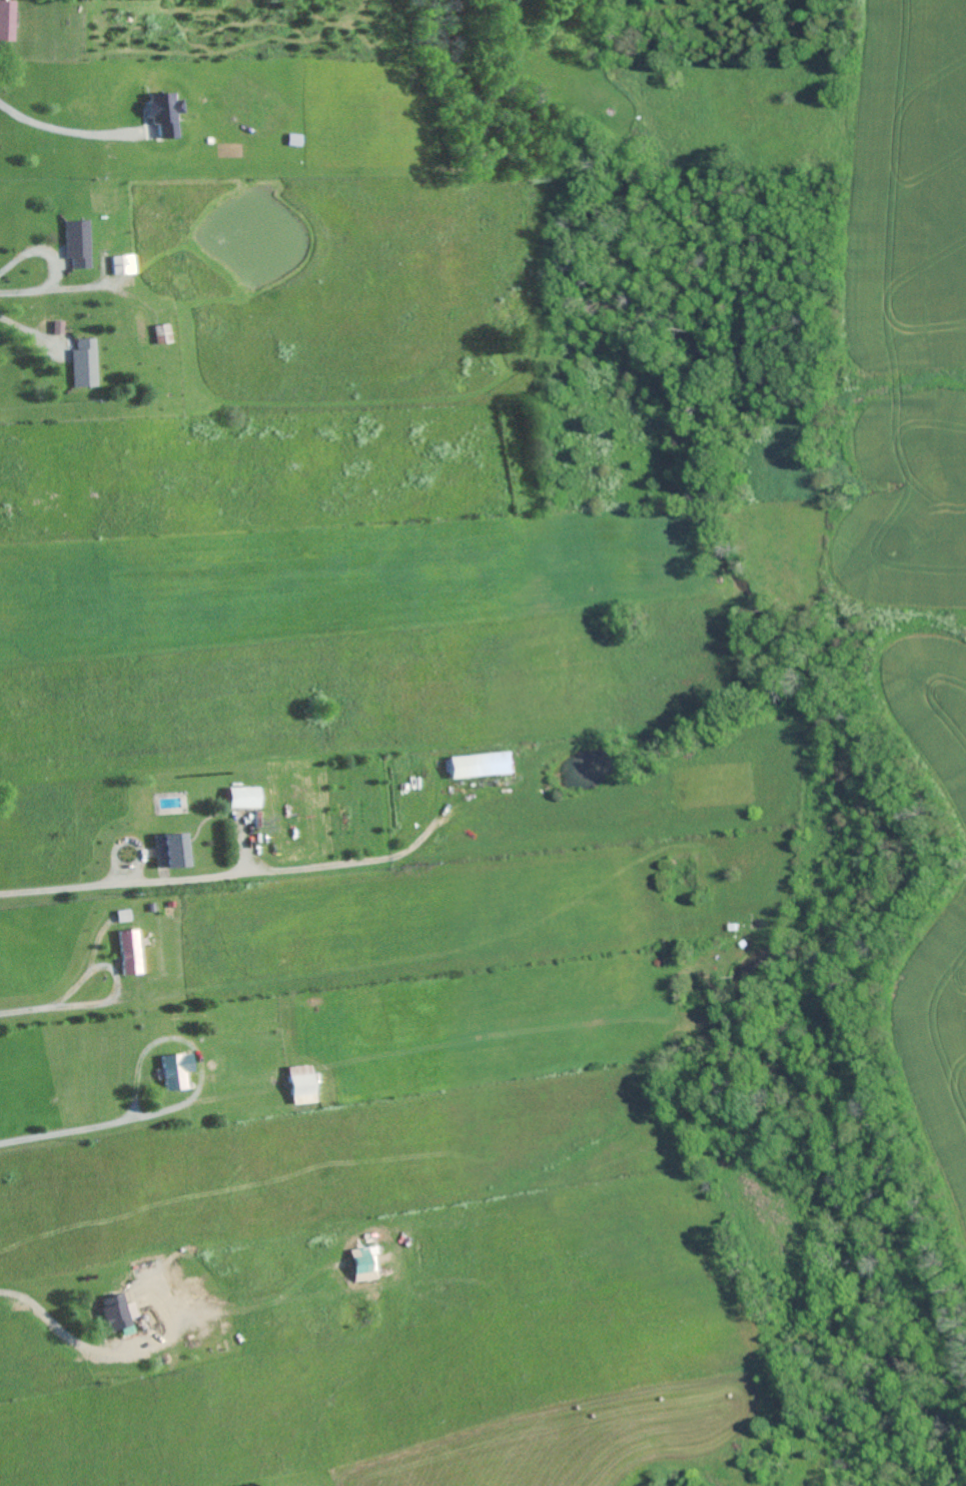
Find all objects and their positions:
building: (6, 19)
building: (158, 112)
road: (68, 130)
building: (78, 242)
road: (39, 252)
building: (121, 264)
road: (60, 287)
building: (59, 327)
road: (33, 330)
building: (86, 363)
building: (479, 765)
building: (239, 797)
building: (167, 850)
road: (273, 870)
building: (128, 952)
road: (124, 980)
road: (31, 1011)
road: (198, 1047)
building: (173, 1070)
building: (296, 1085)
road: (66, 1135)
road: (337, 1246)
building: (361, 1262)
building: (115, 1311)
road: (96, 1352)

